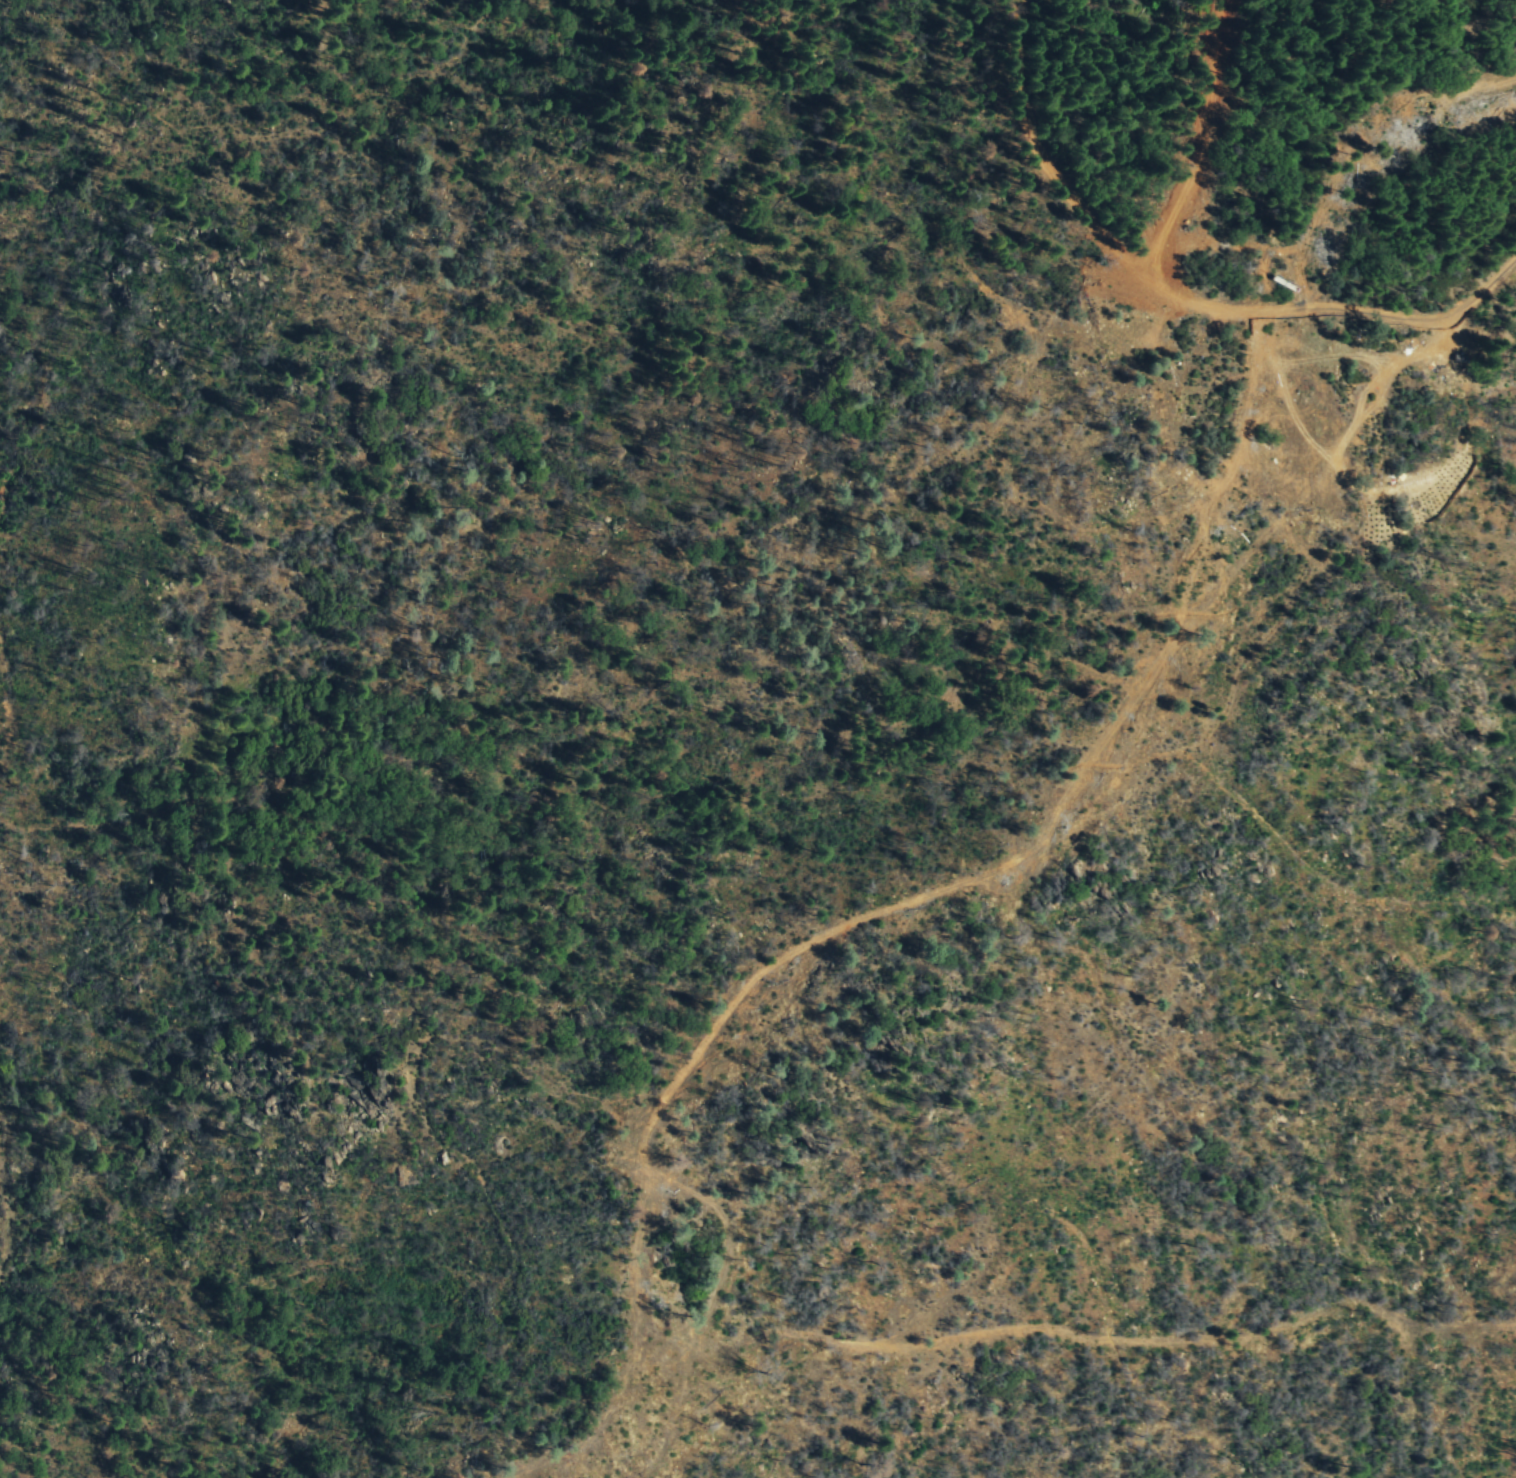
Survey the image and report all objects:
road: (1204, 266)

